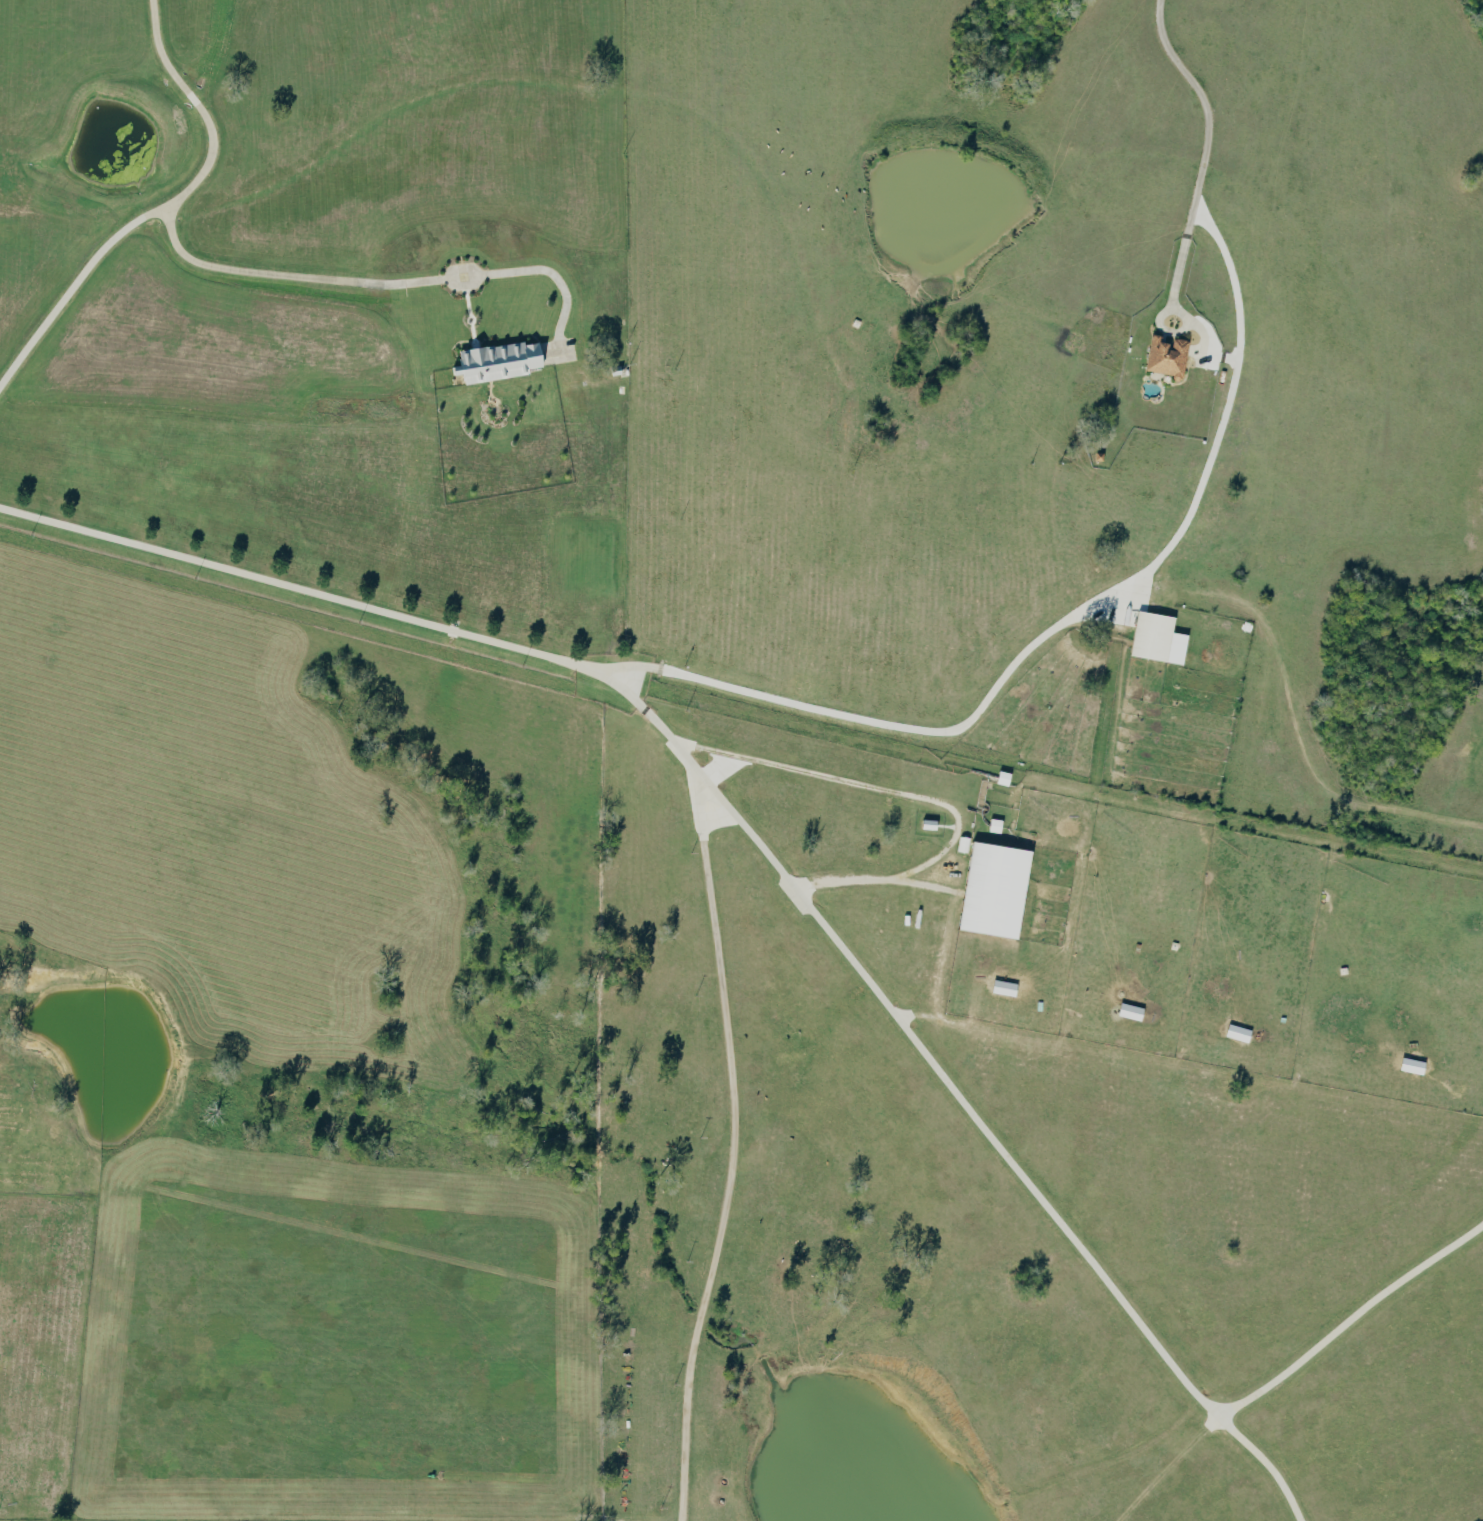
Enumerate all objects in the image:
road: (171, 213)
road: (388, 283)
road: (1175, 297)
road: (1242, 325)
building: (1171, 357)
building: (1162, 640)
road: (871, 720)
road: (913, 798)
building: (1000, 889)
road: (818, 920)
building: (1008, 988)
building: (1134, 1011)
building: (1242, 1033)
building: (1416, 1066)
road: (736, 1152)

